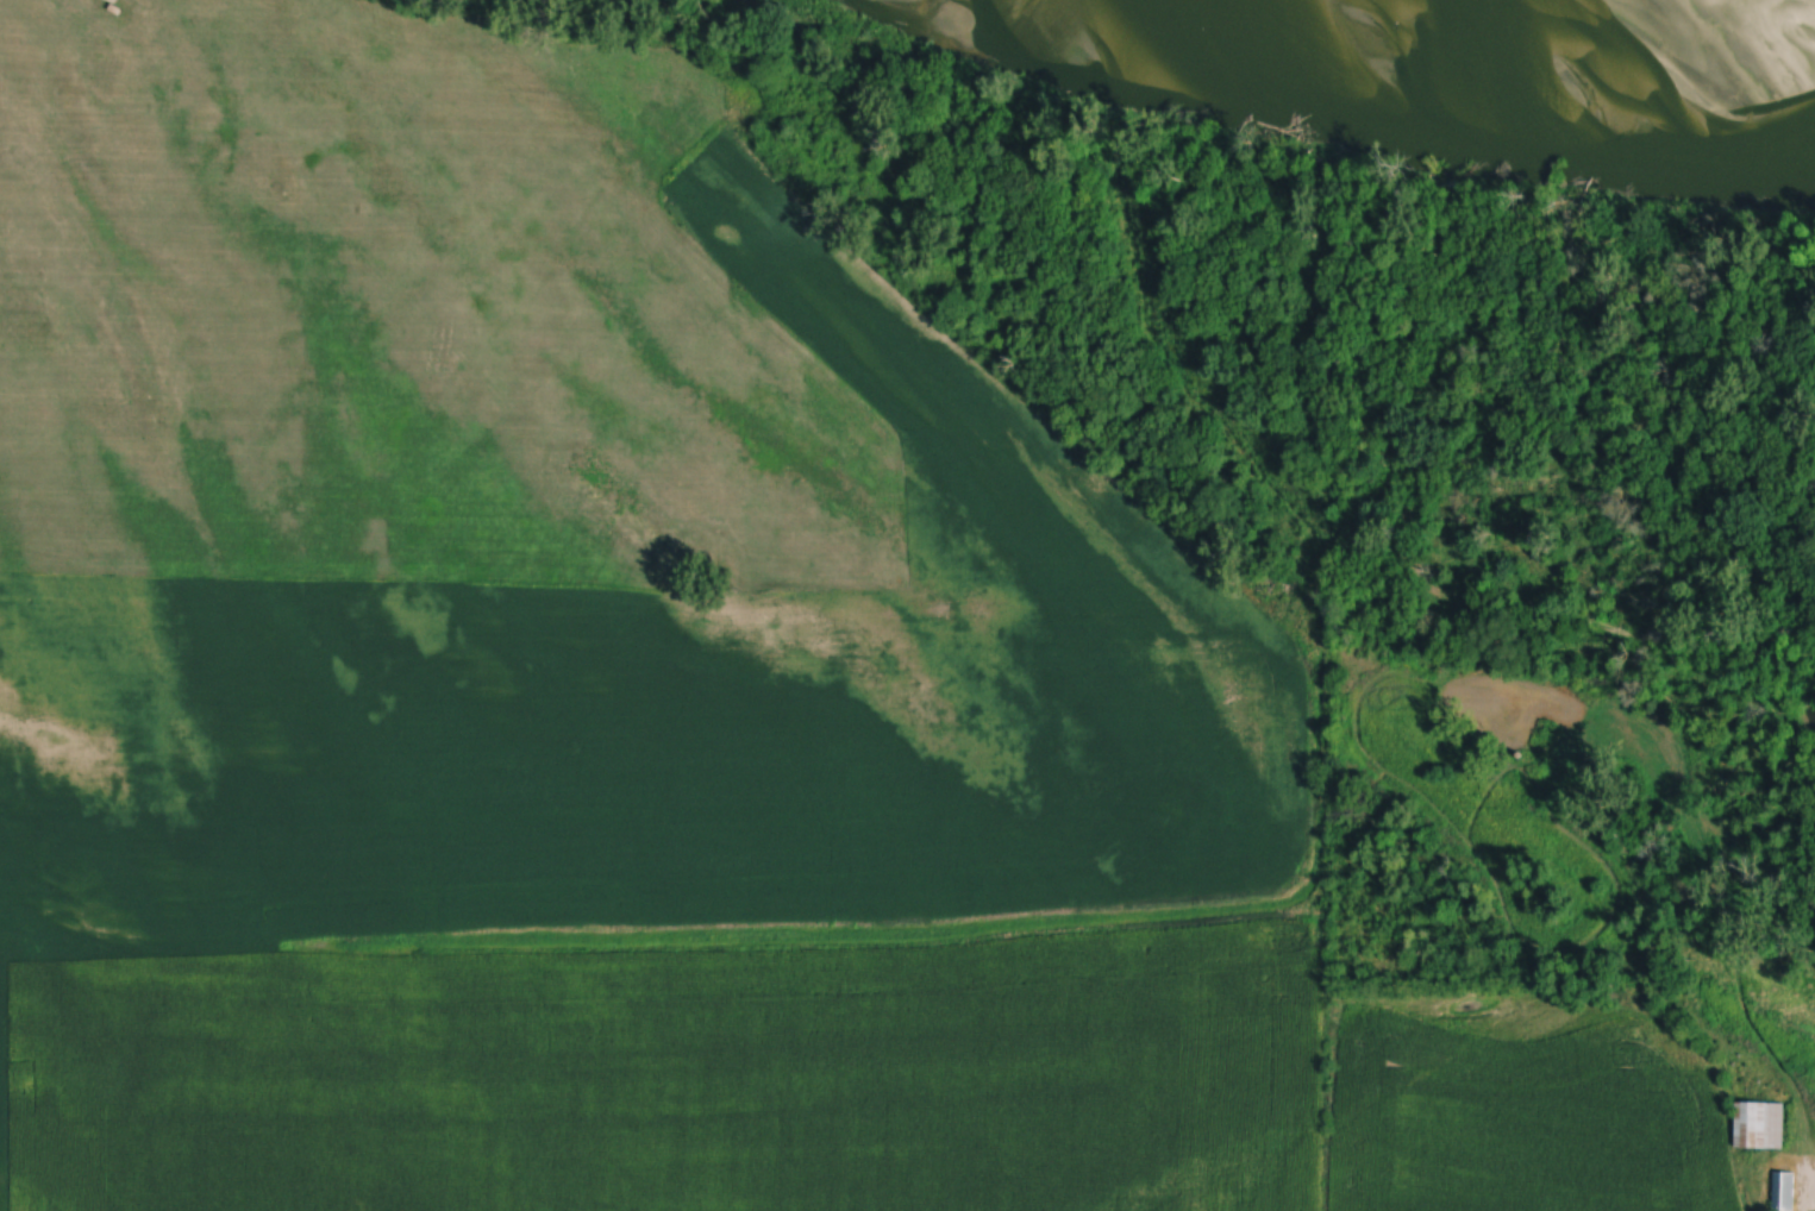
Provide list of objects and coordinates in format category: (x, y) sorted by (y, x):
building: (1761, 1127)
building: (1786, 1192)

